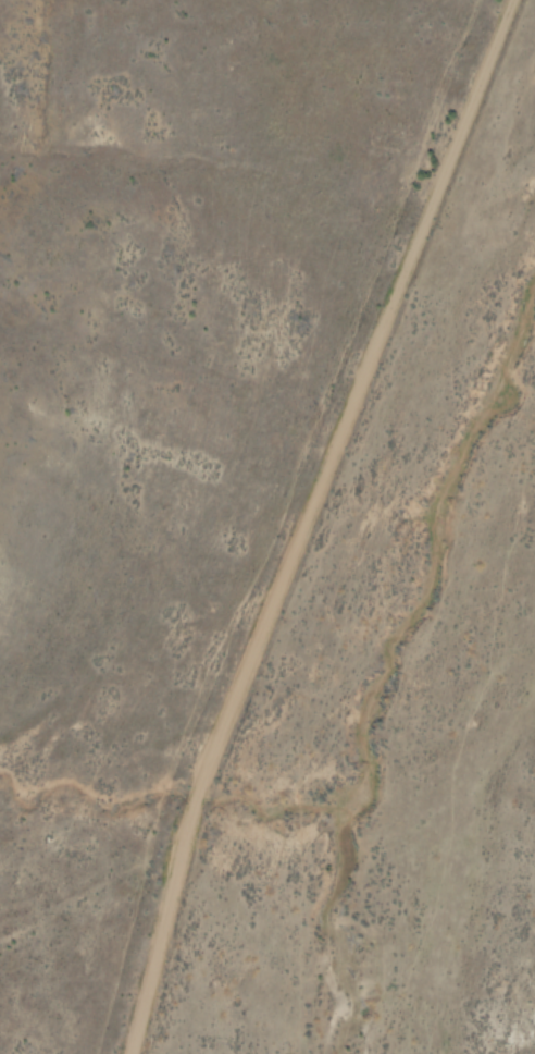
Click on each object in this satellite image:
road: (308, 527)

